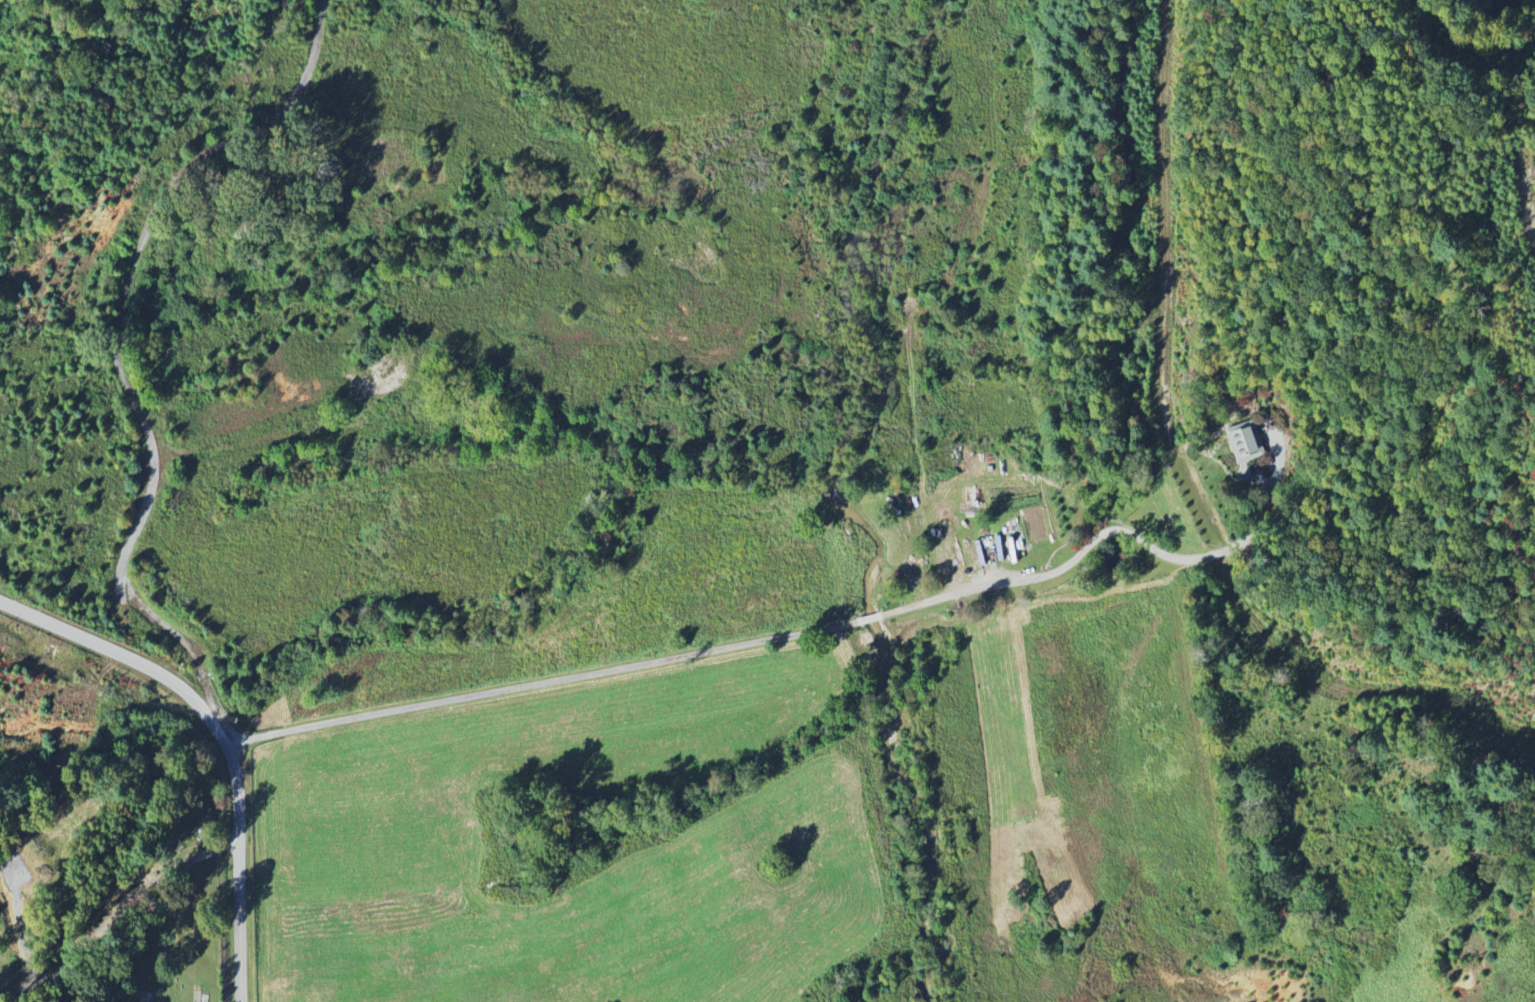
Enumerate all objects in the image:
road: (1523, 200)
building: (1247, 444)
road: (1184, 475)
road: (1092, 540)
road: (870, 617)
road: (537, 683)
road: (216, 740)
park: (184, 810)
road: (113, 917)
park: (167, 947)

